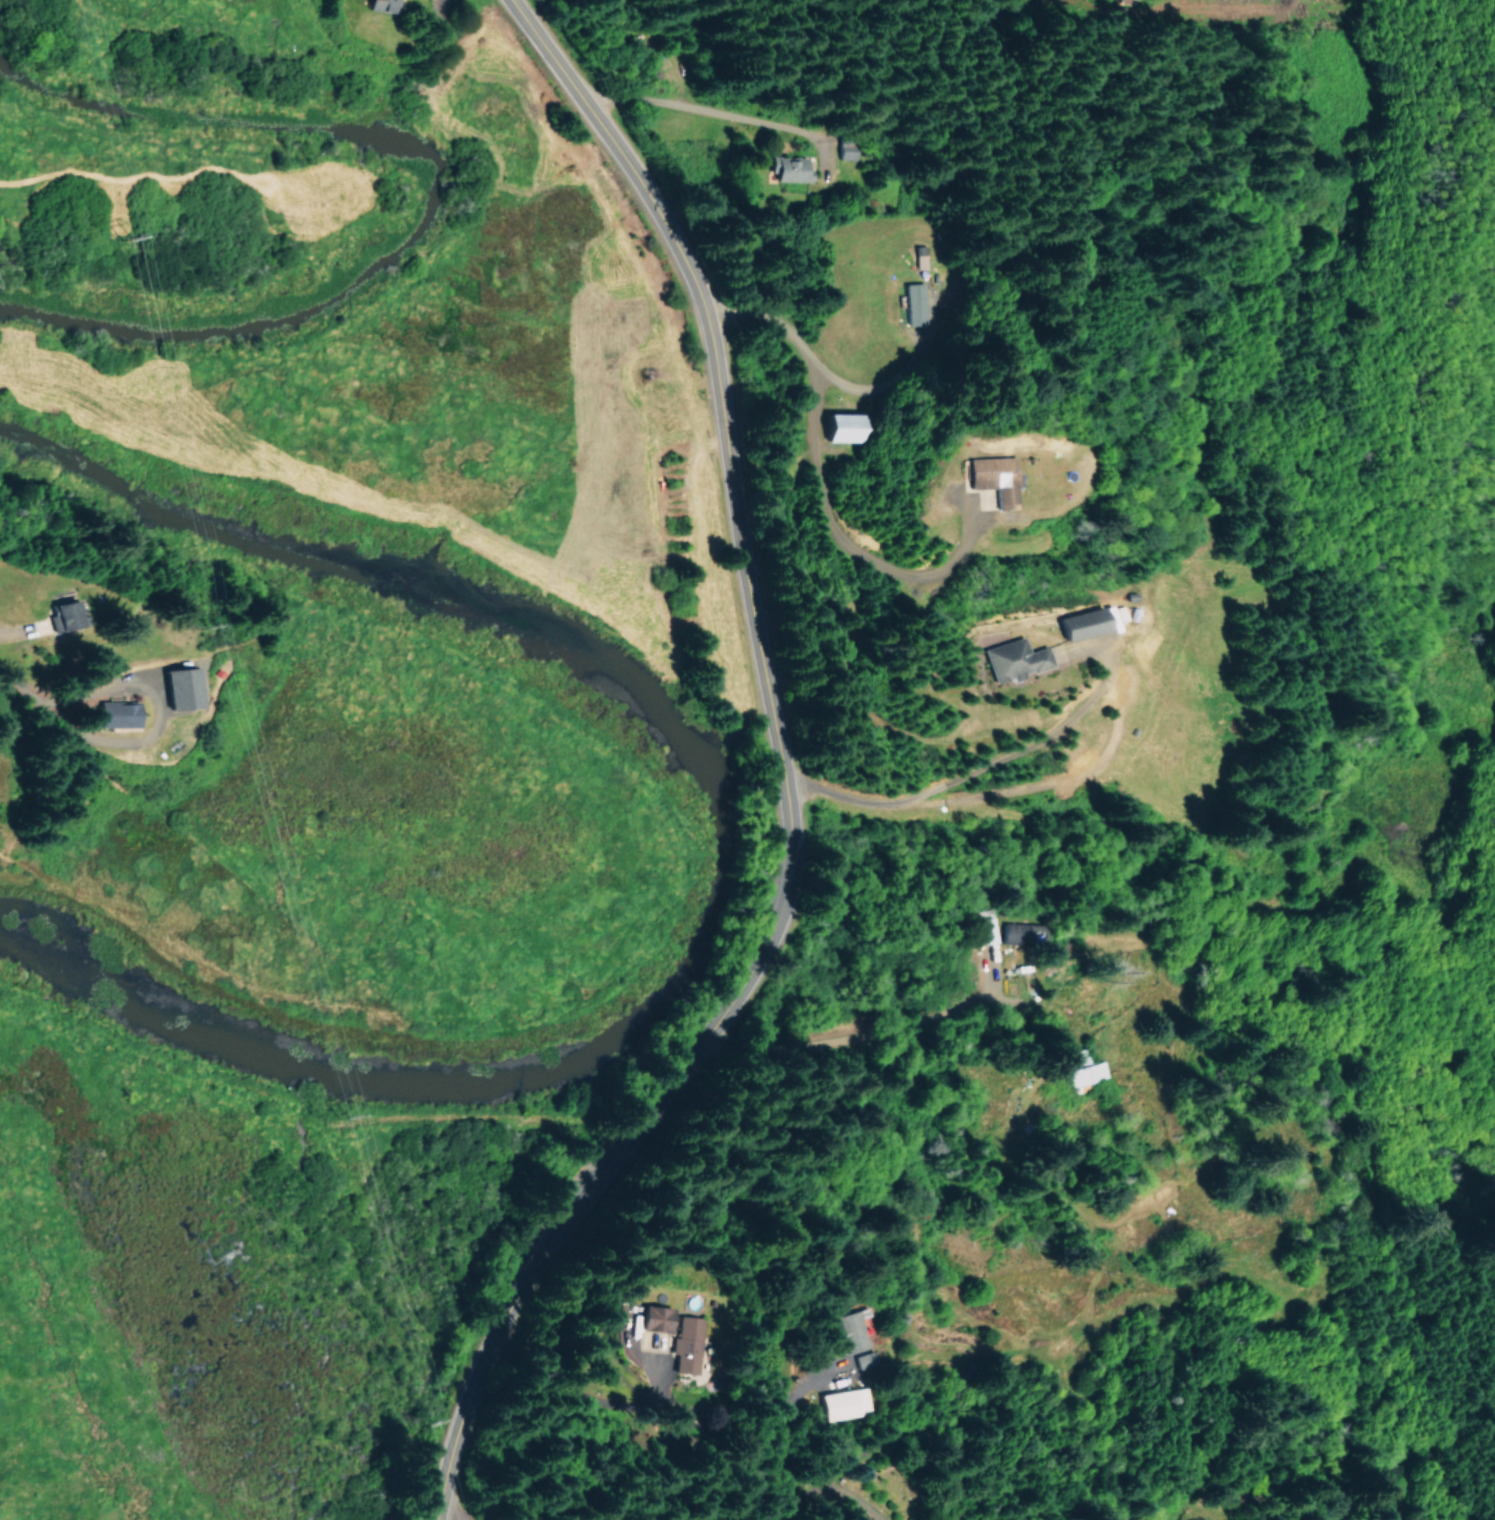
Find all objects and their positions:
building: (380, 5)
road: (705, 108)
building: (788, 168)
building: (914, 303)
building: (843, 426)
building: (993, 478)
building: (63, 612)
building: (1082, 623)
building: (1013, 659)
building: (179, 686)
building: (114, 713)
road: (969, 772)
road: (782, 778)
building: (985, 929)
building: (1016, 932)
road: (844, 1053)
building: (1084, 1068)
building: (652, 1318)
building: (853, 1337)
building: (685, 1344)
building: (842, 1403)
building: (1312, 1518)

